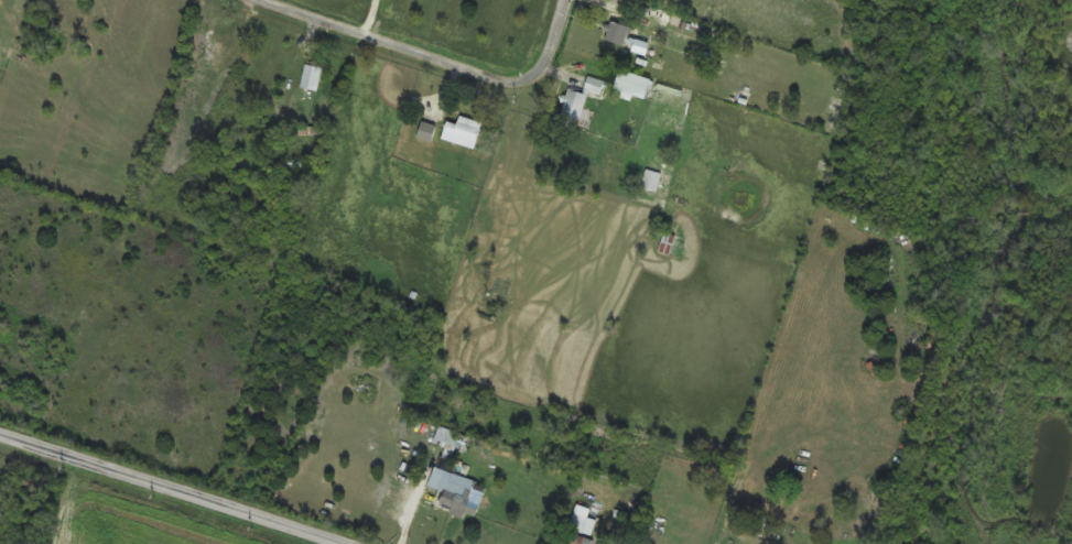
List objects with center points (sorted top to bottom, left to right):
road: (369, 18)
building: (617, 33)
road: (553, 40)
road: (393, 45)
building: (0, 55)
building: (218, 56)
building: (311, 77)
building: (634, 84)
building: (596, 86)
building: (572, 110)
building: (426, 132)
building: (463, 132)
building: (651, 181)
building: (446, 437)
road: (172, 488)
building: (464, 496)
building: (759, 529)
building: (575, 540)

